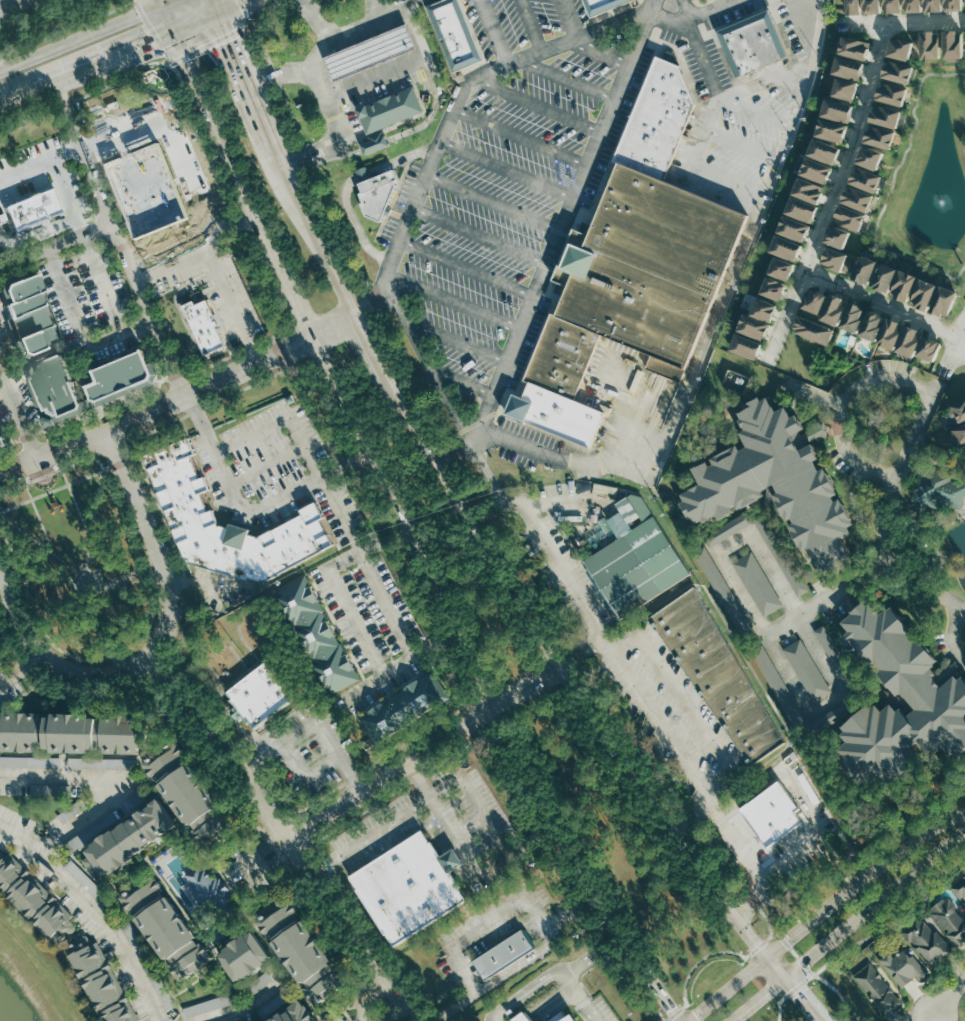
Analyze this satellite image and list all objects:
street lamp: (782, 1)
building: (929, 1)
building: (949, 1)
building: (964, 1)
road: (164, 2)
road: (171, 2)
building: (848, 2)
building: (867, 2)
building: (888, 2)
building: (908, 2)
road: (291, 3)
parking lot: (14, 5)
traffic signals: (165, 5)
building: (597, 5)
parking lot: (705, 6)
road: (139, 7)
road: (214, 7)
road: (236, 7)
road: (377, 8)
road: (689, 9)
road: (711, 11)
traffic signals: (217, 15)
road: (268, 15)
road: (170, 18)
road: (316, 19)
road: (571, 19)
road: (901, 22)
road: (196, 23)
street lamp: (699, 25)
road: (531, 26)
parking lot: (521, 27)
road: (67, 29)
traffic signals: (176, 32)
road: (494, 32)
building: (456, 33)
road: (82, 38)
road: (692, 38)
road: (156, 39)
building: (752, 42)
building: (950, 42)
road: (209, 43)
road: (325, 44)
building: (852, 44)
building: (927, 45)
building: (898, 46)
road: (601, 50)
building: (369, 51)
gas station: (369, 51)
parking lot: (702, 63)
building: (847, 64)
road: (87, 66)
road: (400, 66)
building: (895, 69)
fountain: (153, 73)
road: (276, 75)
road: (568, 78)
road: (766, 81)
building: (845, 84)
building: (889, 92)
road: (86, 96)
road: (537, 105)
building: (836, 105)
building: (390, 109)
road: (432, 109)
road: (757, 113)
building: (883, 113)
building: (657, 119)
building: (830, 126)
parking lot: (146, 130)
road: (337, 135)
road: (706, 135)
building: (876, 135)
road: (521, 137)
building: (375, 141)
parking lot: (736, 141)
road: (375, 143)
building: (822, 145)
road: (744, 146)
road: (76, 153)
road: (343, 153)
road: (226, 155)
building: (869, 158)
road: (62, 159)
building: (815, 164)
road: (507, 170)
road: (27, 171)
parking lot: (42, 174)
road: (427, 174)
building: (864, 177)
road: (349, 184)
road: (193, 185)
building: (809, 185)
road: (891, 186)
road: (65, 189)
road: (727, 190)
road: (834, 192)
building: (163, 194)
building: (378, 194)
building: (856, 197)
road: (235, 202)
parking lot: (400, 202)
fountain: (941, 202)
building: (135, 203)
road: (135, 203)
road: (493, 203)
building: (801, 205)
building: (28, 212)
building: (848, 216)
parking lot: (191, 221)
road: (232, 221)
road: (80, 224)
building: (793, 225)
road: (562, 226)
parking lot: (513, 231)
road: (36, 232)
road: (2, 234)
road: (481, 234)
building: (837, 237)
road: (118, 239)
road: (749, 239)
road: (55, 244)
building: (786, 244)
building: (834, 258)
street lamp: (45, 259)
building: (650, 266)
building: (781, 266)
building: (865, 267)
road: (466, 269)
building: (884, 275)
road: (148, 281)
road: (104, 283)
building: (904, 283)
parking lot: (210, 284)
building: (773, 285)
building: (1, 288)
building: (925, 291)
building: (944, 298)
road: (370, 299)
building: (816, 300)
road: (452, 303)
parking lot: (92, 304)
road: (885, 304)
building: (764, 305)
road: (298, 307)
road: (233, 308)
building: (835, 308)
road: (183, 313)
building: (28, 314)
building: (854, 316)
building: (754, 323)
building: (873, 324)
building: (204, 325)
road: (334, 328)
building: (814, 329)
road: (80, 330)
building: (891, 332)
building: (16, 339)
building: (911, 340)
road: (457, 342)
building: (745, 342)
road: (954, 343)
road: (17, 344)
building: (930, 348)
road: (280, 352)
building: (563, 356)
building: (121, 375)
road: (173, 375)
road: (876, 380)
road: (459, 381)
parking lot: (626, 384)
road: (160, 385)
building: (34, 386)
building: (57, 386)
street lamp: (168, 387)
building: (128, 389)
road: (201, 389)
parking lot: (13, 390)
road: (815, 394)
road: (33, 399)
road: (165, 405)
road: (326, 407)
road: (158, 409)
road: (626, 409)
building: (958, 410)
road: (18, 412)
building: (557, 413)
road: (195, 414)
road: (100, 416)
road: (134, 420)
road: (252, 433)
building: (960, 434)
building: (2, 439)
road: (453, 451)
road: (55, 452)
road: (563, 460)
road: (267, 465)
parking lot: (278, 471)
road: (102, 474)
flagpole: (47, 481)
road: (492, 481)
building: (776, 481)
road: (61, 486)
road: (13, 488)
building: (941, 492)
road: (32, 499)
road: (76, 504)
road: (243, 505)
road: (539, 506)
building: (188, 515)
building: (726, 530)
road: (350, 533)
road: (482, 540)
road: (155, 543)
road: (37, 544)
park: (82, 557)
building: (634, 559)
road: (889, 562)
building: (710, 567)
road: (144, 569)
parking lot: (560, 571)
road: (134, 573)
road: (562, 574)
road: (1, 576)
building: (758, 584)
road: (197, 586)
parking lot: (210, 589)
road: (828, 599)
road: (347, 607)
road: (37, 614)
parking lot: (375, 623)
road: (764, 630)
road: (953, 633)
building: (319, 635)
road: (625, 643)
road: (582, 652)
road: (48, 656)
road: (115, 662)
road: (29, 664)
building: (769, 669)
building: (807, 670)
road: (381, 673)
building: (718, 673)
road: (7, 680)
road: (485, 687)
road: (22, 693)
building: (261, 694)
building: (934, 694)
road: (684, 702)
building: (403, 707)
parking lot: (668, 714)
road: (657, 721)
road: (311, 725)
building: (71, 732)
road: (220, 745)
parking lot: (306, 747)
road: (424, 752)
road: (69, 754)
building: (17, 761)
road: (252, 761)
building: (98, 762)
road: (303, 776)
road: (227, 778)
road: (351, 778)
road: (419, 778)
road: (717, 779)
road: (122, 780)
road: (149, 787)
road: (748, 790)
building: (190, 792)
road: (802, 805)
building: (71, 810)
road: (401, 812)
building: (772, 812)
road: (693, 817)
road: (721, 818)
parking lot: (444, 828)
road: (179, 829)
building: (742, 836)
building: (130, 838)
road: (90, 839)
road: (738, 840)
road: (213, 845)
road: (319, 855)
road: (451, 857)
road: (327, 862)
road: (796, 862)
road: (757, 866)
parking lot: (247, 869)
road: (250, 869)
road: (495, 870)
building: (959, 886)
building: (408, 888)
building: (210, 891)
road: (752, 899)
building: (34, 902)
road: (568, 909)
road: (96, 910)
road: (260, 910)
road: (823, 911)
road: (892, 917)
building: (947, 917)
road: (130, 918)
road: (771, 922)
road: (850, 926)
building: (168, 927)
road: (241, 928)
road: (484, 930)
parking lot: (492, 930)
road: (352, 931)
power tower: (579, 935)
traffic signals: (792, 939)
building: (924, 940)
building: (303, 951)
building: (503, 953)
road: (273, 954)
building: (246, 955)
road: (591, 955)
road: (704, 957)
road: (521, 965)
building: (895, 967)
road: (204, 973)
road: (289, 978)
building: (98, 981)
building: (261, 982)
building: (874, 987)
road: (214, 989)
traffic signals: (772, 991)
road: (526, 994)
road: (791, 994)
traffic signals: (801, 994)
road: (364, 995)
road: (645, 995)
road: (949, 996)
road: (581, 997)
road: (548, 998)
road: (353, 1001)
road: (175, 1002)
road: (249, 1005)
road: (553, 1005)
road: (282, 1006)
road: (454, 1006)
road: (557, 1007)
parking lot: (597, 1010)
road: (391, 1011)
power tower: (634, 1013)
building: (295, 1014)
road: (333, 1015)
building: (521, 1017)
road: (522, 1017)
building: (562, 1017)
road: (263, 1020)
road: (529, 1020)

